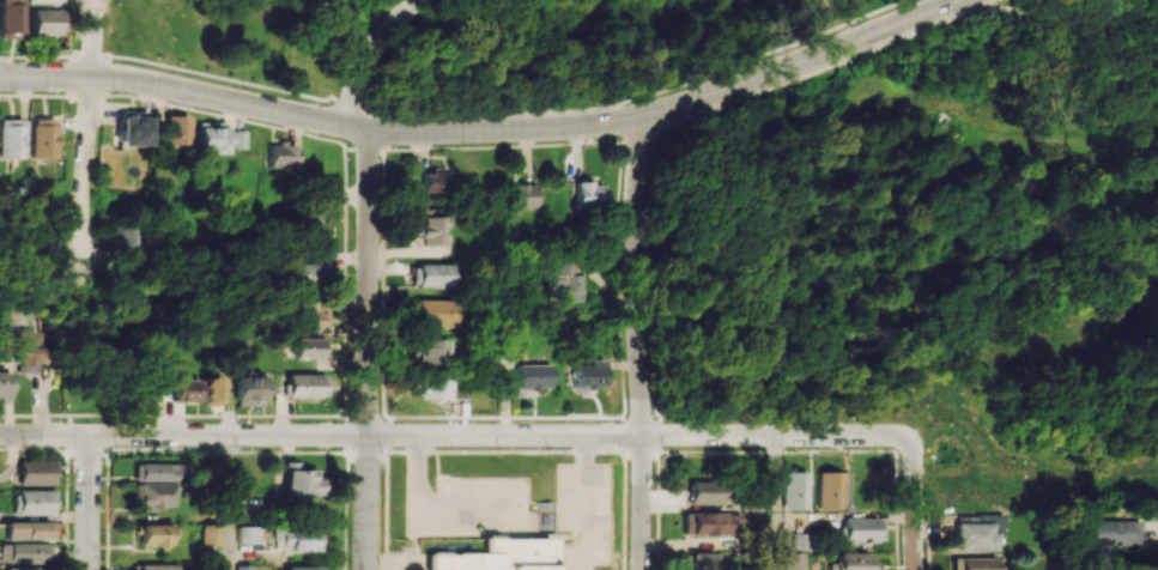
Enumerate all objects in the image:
building: (42, 1)
road: (992, 1)
building: (10, 18)
road: (1079, 18)
building: (41, 22)
road: (365, 54)
road: (183, 66)
road: (824, 68)
road: (575, 107)
road: (487, 128)
building: (131, 129)
building: (176, 132)
building: (11, 138)
building: (41, 138)
building: (211, 138)
road: (84, 141)
building: (281, 156)
building: (437, 180)
building: (521, 195)
building: (590, 195)
park: (816, 195)
building: (316, 214)
building: (434, 231)
building: (126, 241)
building: (304, 272)
building: (431, 274)
road: (642, 277)
building: (569, 279)
building: (435, 313)
building: (310, 314)
building: (308, 347)
road: (370, 348)
building: (430, 351)
building: (28, 359)
building: (589, 375)
building: (533, 376)
building: (4, 386)
building: (305, 386)
building: (438, 388)
road: (505, 388)
building: (184, 389)
building: (212, 390)
building: (249, 390)
road: (507, 433)
road: (184, 435)
road: (777, 435)
road: (584, 449)
building: (152, 471)
road: (417, 471)
building: (37, 472)
building: (299, 481)
building: (794, 490)
building: (832, 490)
building: (704, 492)
building: (151, 495)
building: (35, 502)
road: (90, 502)
road: (229, 502)
road: (643, 502)
road: (777, 502)
parking lot: (472, 505)
road: (915, 505)
road: (469, 507)
parking lot: (583, 516)
road: (584, 517)
building: (703, 523)
building: (28, 529)
building: (861, 529)
building: (977, 532)
building: (1110, 532)
building: (152, 534)
building: (208, 534)
building: (245, 534)
building: (293, 539)
building: (504, 548)
building: (24, 552)
building: (698, 560)
building: (792, 560)
building: (850, 562)
building: (971, 563)
building: (154, 566)
building: (242, 566)
building: (19, 568)
building: (295, 569)

